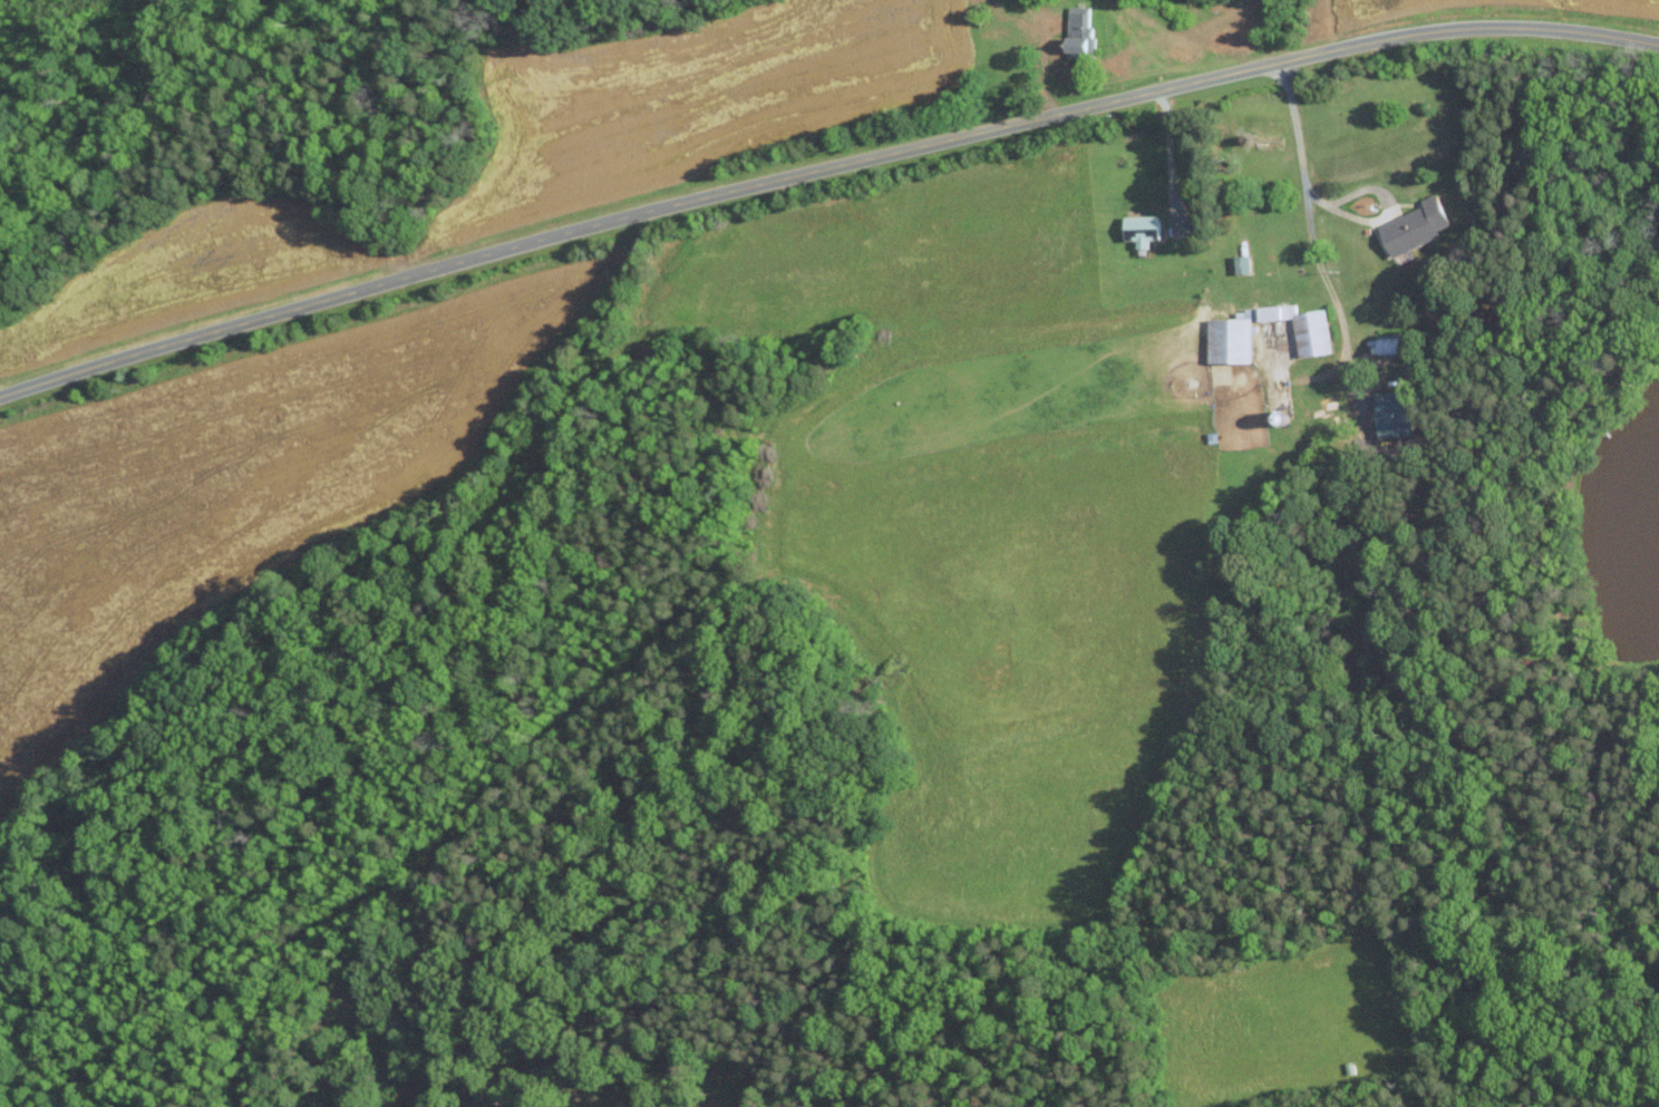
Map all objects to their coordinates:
building: (1075, 29)
road: (1041, 59)
road: (1167, 148)
road: (822, 168)
building: (1411, 226)
road: (1309, 227)
building: (1138, 229)
building: (1225, 337)
building: (1386, 343)
building: (1389, 414)

